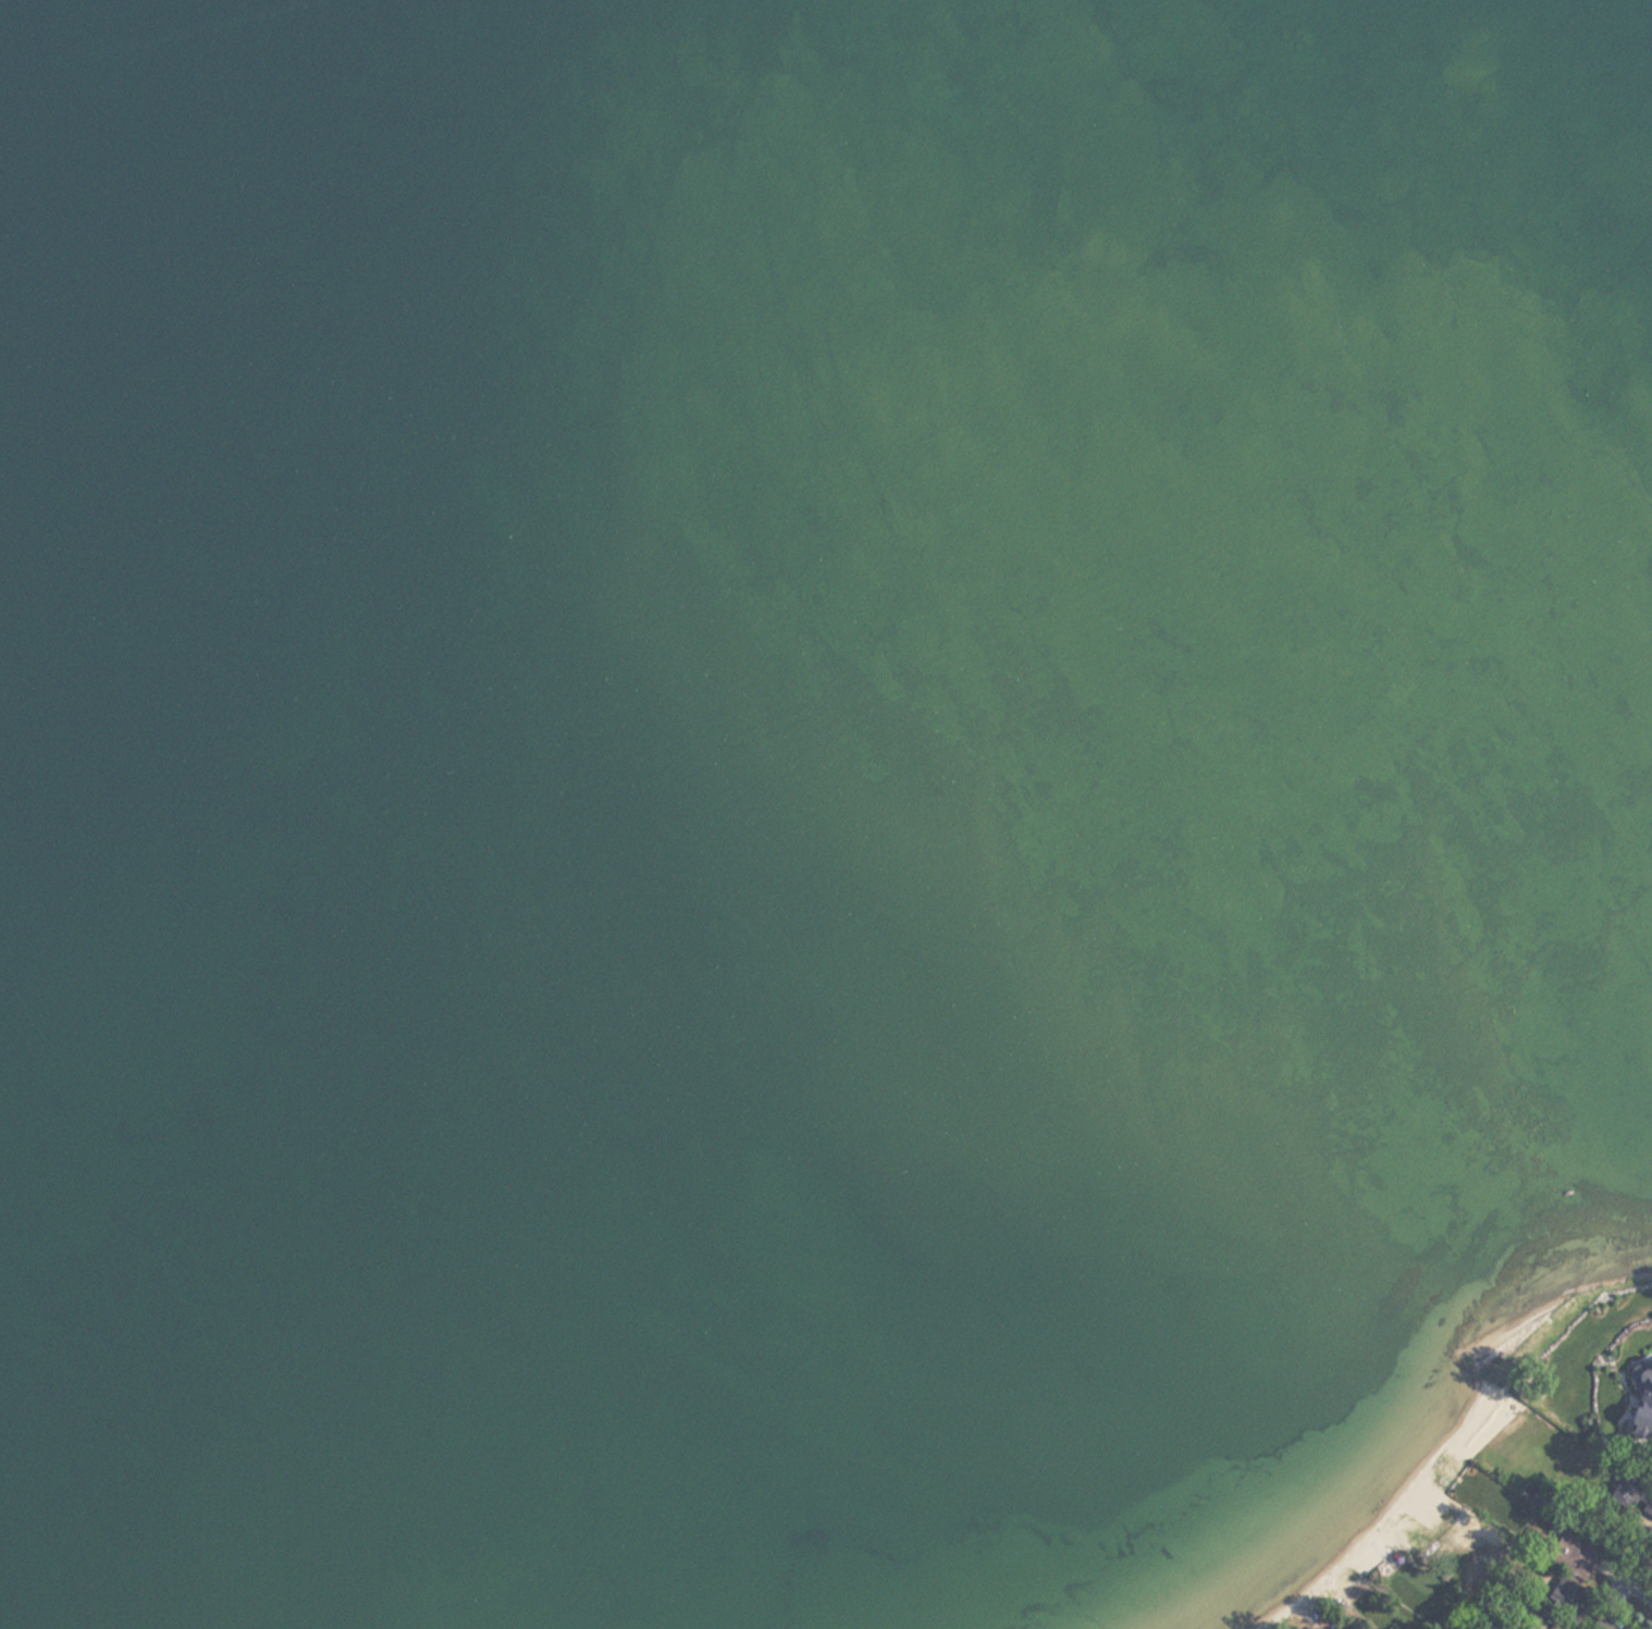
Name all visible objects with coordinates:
building: (1643, 1381)
building: (1635, 1500)
building: (1576, 1558)
building: (1569, 1600)
building: (1538, 1624)

